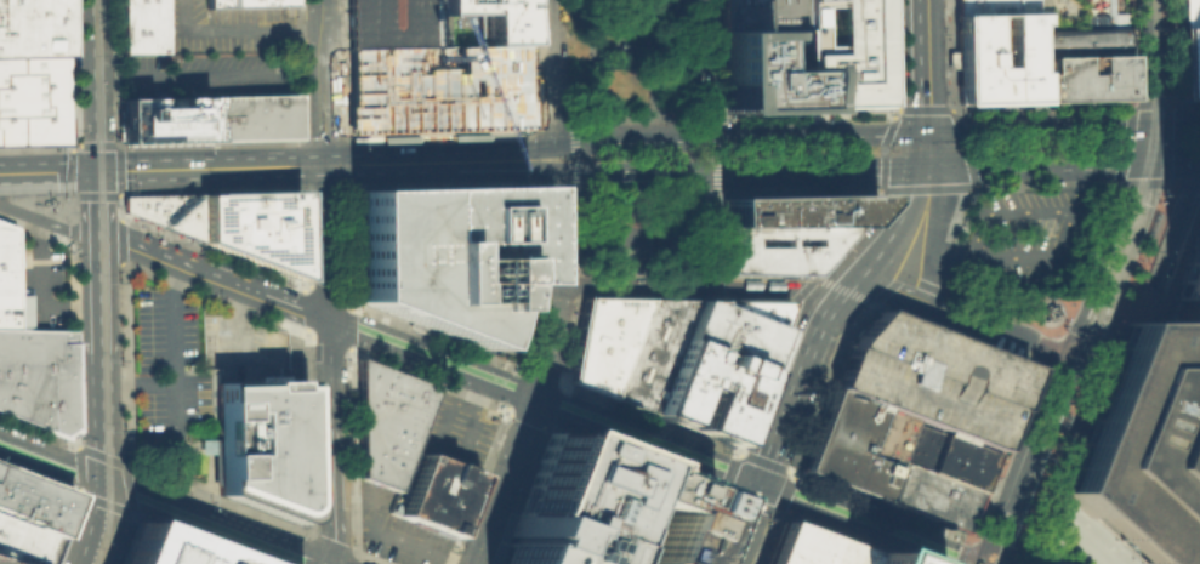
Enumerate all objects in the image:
building: (245, 2)
building: (993, 6)
building: (1187, 12)
railway: (102, 13)
building: (740, 13)
building: (783, 13)
road: (103, 16)
building: (491, 18)
building: (389, 23)
parking lot: (389, 23)
building: (140, 25)
building: (32, 27)
parking lot: (226, 27)
road: (237, 28)
building: (1079, 41)
building: (844, 52)
building: (995, 56)
road: (587, 58)
road: (648, 58)
building: (1187, 59)
road: (1148, 62)
road: (927, 64)
road: (692, 68)
building: (763, 68)
road: (551, 69)
road: (114, 72)
parking lot: (234, 72)
parking lot: (147, 74)
road: (249, 74)
road: (133, 76)
road: (323, 76)
building: (1080, 76)
road: (92, 84)
railway: (1154, 98)
building: (32, 99)
building: (251, 115)
road: (698, 115)
road: (620, 116)
road: (666, 116)
building: (163, 118)
road: (579, 118)
road: (1173, 123)
road: (959, 125)
traffic signals: (1148, 125)
road: (1039, 127)
traffic signals: (929, 130)
park: (626, 136)
road: (720, 136)
road: (928, 139)
road: (93, 144)
road: (1144, 144)
road: (323, 154)
road: (715, 154)
road: (569, 156)
road: (928, 158)
road: (442, 161)
road: (1170, 161)
traffic signals: (1142, 164)
road: (1035, 165)
road: (188, 167)
road: (721, 167)
traffic signals: (928, 167)
traffic signals: (93, 169)
road: (46, 170)
road: (68, 170)
road: (118, 170)
road: (324, 173)
road: (1161, 182)
road: (1076, 189)
road: (938, 193)
road: (61, 195)
road: (93, 195)
road: (95, 203)
road: (119, 206)
road: (69, 209)
building: (795, 209)
building: (166, 210)
road: (1064, 212)
road: (76, 213)
road: (903, 213)
road: (47, 221)
road: (1173, 222)
building: (254, 224)
road: (699, 228)
road: (35, 229)
road: (120, 229)
road: (72, 233)
road: (624, 233)
parking lot: (1028, 234)
building: (653, 241)
building: (596, 244)
building: (777, 246)
road: (954, 250)
building: (438, 252)
road: (915, 252)
road: (933, 253)
road: (169, 258)
road: (1105, 263)
road: (869, 267)
building: (1187, 281)
building: (11, 283)
railway: (102, 283)
road: (553, 285)
road: (802, 286)
road: (627, 287)
road: (768, 287)
road: (885, 287)
road: (39, 289)
road: (846, 290)
road: (842, 291)
road: (285, 303)
road: (946, 306)
building: (755, 307)
road: (241, 319)
road: (957, 325)
building: (727, 332)
road: (1022, 335)
building: (602, 340)
parking lot: (240, 348)
building: (648, 351)
traffic signals: (1059, 358)
road: (330, 369)
parking lot: (165, 370)
building: (38, 376)
building: (929, 376)
parking lot: (929, 376)
railway: (1068, 380)
road: (1054, 382)
road: (137, 383)
road: (174, 383)
building: (704, 391)
road: (794, 394)
road: (545, 400)
road: (101, 401)
building: (386, 421)
parking lot: (453, 429)
road: (39, 431)
building: (260, 443)
building: (855, 443)
building: (1145, 443)
road: (455, 444)
road: (99, 455)
building: (944, 455)
road: (1019, 461)
road: (78, 469)
road: (1046, 472)
traffic signals: (102, 479)
road: (502, 479)
traffic signals: (760, 484)
building: (574, 485)
road: (127, 488)
building: (431, 491)
building: (928, 496)
building: (32, 501)
road: (160, 501)
road: (106, 503)
road: (775, 512)
building: (652, 519)
road: (744, 523)
road: (864, 523)
road: (1087, 523)
parking lot: (396, 530)
road: (123, 537)
road: (1057, 537)
road: (394, 540)
building: (23, 542)
road: (993, 543)
building: (545, 545)
railway: (1025, 546)
building: (808, 547)
building: (170, 548)
road: (104, 558)
road: (1013, 558)
road: (1029, 558)
building: (875, 559)
building: (1, 563)

